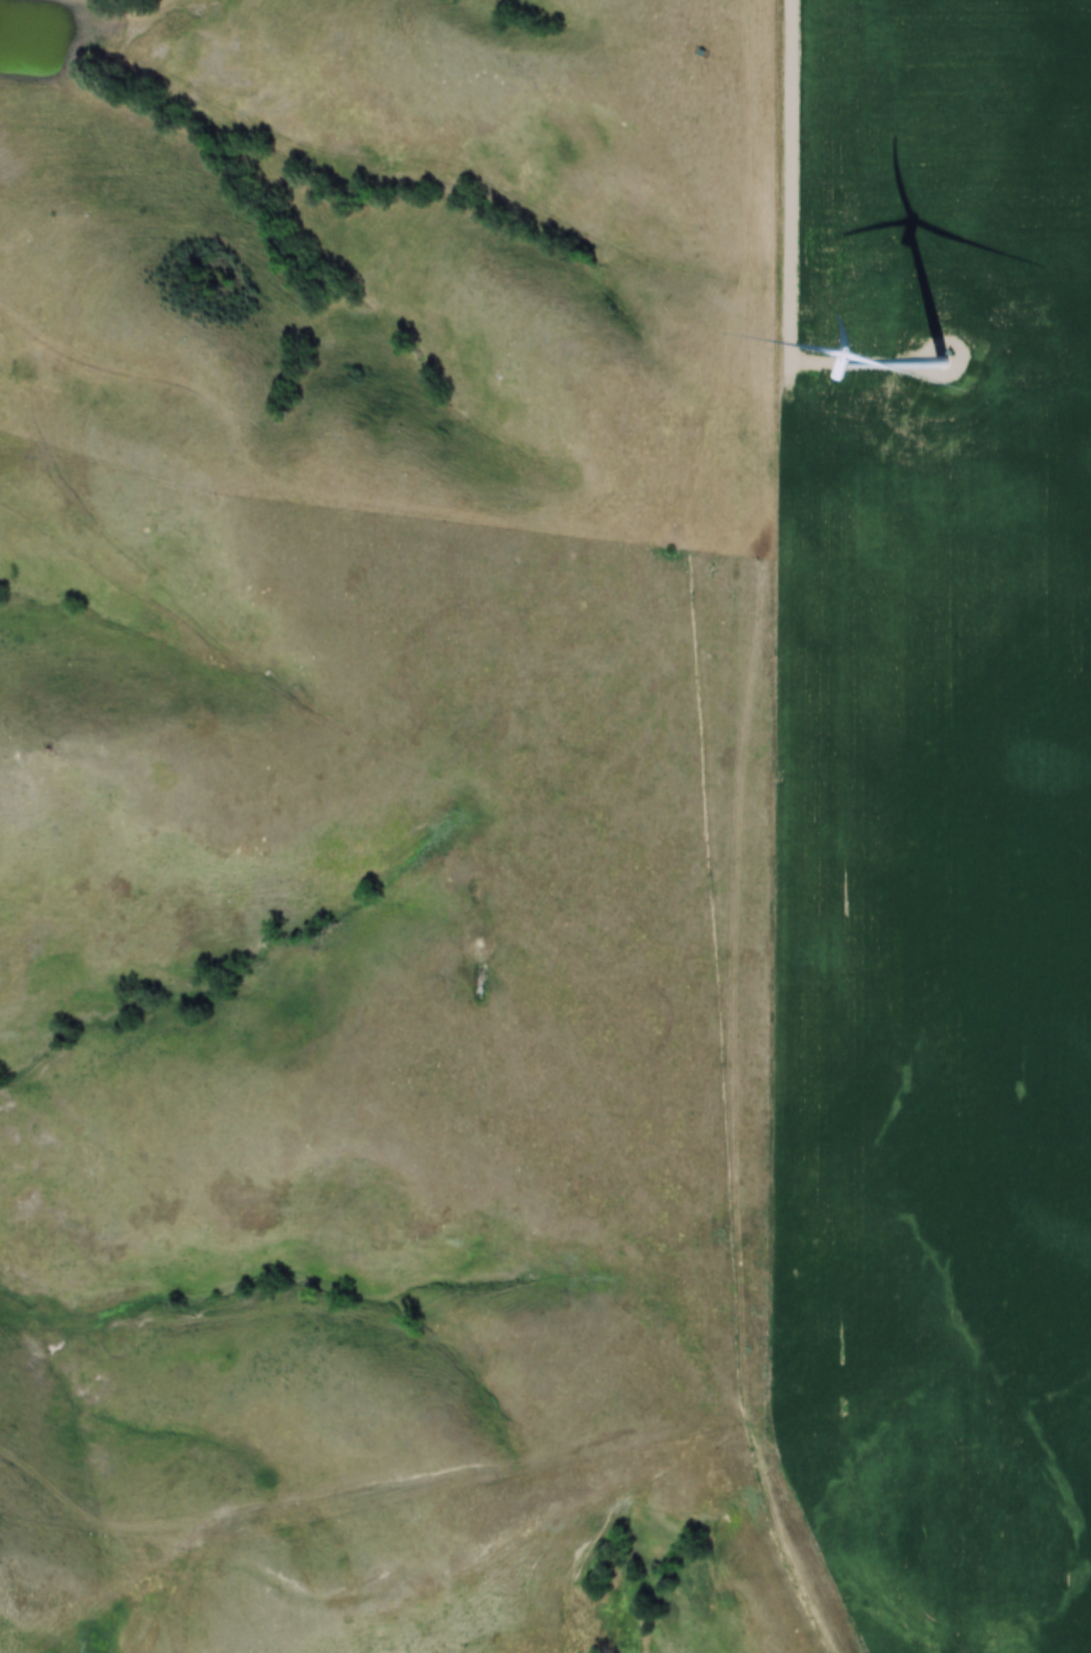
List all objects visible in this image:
road: (789, 235)
wind turbine: (967, 364)

